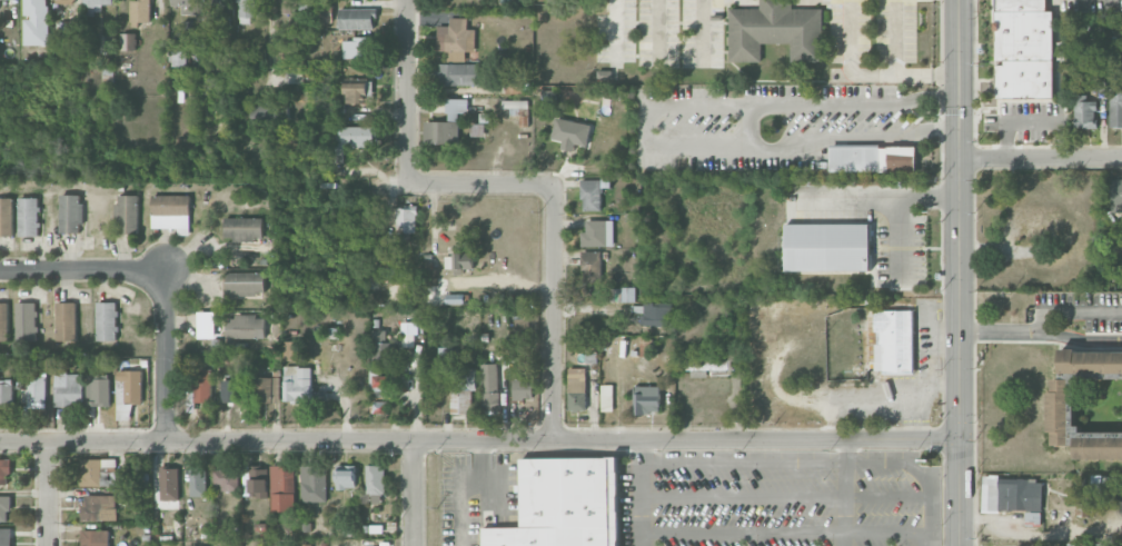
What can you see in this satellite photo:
building: (66, 1)
building: (95, 6)
building: (187, 6)
building: (219, 6)
building: (289, 6)
building: (247, 9)
building: (140, 10)
building: (357, 17)
building: (36, 22)
building: (70, 29)
building: (776, 30)
road: (656, 31)
road: (702, 31)
road: (615, 32)
building: (456, 36)
road: (850, 37)
road: (895, 37)
building: (128, 41)
road: (270, 43)
building: (355, 48)
building: (1024, 49)
building: (179, 58)
building: (460, 73)
road: (906, 75)
building: (1098, 81)
building: (514, 86)
building: (357, 91)
building: (547, 95)
building: (456, 108)
building: (1115, 109)
building: (1085, 112)
building: (271, 113)
road: (643, 126)
road: (747, 128)
building: (476, 129)
building: (441, 132)
building: (570, 132)
building: (355, 136)
road: (1041, 156)
building: (873, 158)
road: (406, 162)
road: (881, 190)
building: (592, 195)
building: (1116, 195)
building: (71, 212)
building: (171, 212)
building: (128, 214)
building: (6, 216)
building: (29, 216)
building: (406, 219)
building: (1042, 226)
building: (244, 228)
road: (900, 232)
building: (598, 234)
building: (827, 247)
building: (388, 260)
building: (459, 261)
building: (592, 266)
road: (82, 270)
road: (960, 272)
building: (246, 282)
building: (628, 294)
building: (455, 298)
road: (553, 311)
road: (1070, 311)
building: (656, 315)
building: (67, 320)
building: (107, 320)
building: (3, 321)
building: (26, 321)
building: (246, 327)
road: (1041, 331)
building: (408, 332)
building: (895, 340)
building: (381, 344)
building: (643, 347)
building: (289, 350)
road: (167, 356)
building: (445, 356)
building: (704, 363)
building: (1091, 364)
building: (698, 374)
building: (379, 380)
building: (298, 384)
building: (202, 385)
building: (490, 387)
building: (523, 388)
building: (577, 388)
building: (34, 389)
building: (68, 389)
building: (266, 389)
building: (229, 390)
building: (463, 390)
building: (98, 391)
building: (6, 393)
building: (607, 397)
building: (647, 399)
building: (1060, 411)
traffic signals: (960, 437)
road: (479, 439)
building: (1098, 445)
road: (742, 461)
building: (4, 471)
building: (346, 476)
building: (226, 478)
building: (375, 478)
building: (142, 479)
building: (198, 480)
building: (256, 482)
building: (314, 483)
building: (1106, 483)
building: (169, 484)
road: (485, 486)
building: (282, 487)
road: (461, 489)
road: (638, 492)
road: (846, 492)
road: (50, 494)
road: (411, 494)
building: (1012, 494)
road: (742, 497)
building: (565, 504)
building: (4, 507)
building: (99, 507)
building: (280, 527)
road: (742, 529)
building: (6, 536)
building: (96, 537)
building: (1052, 544)
building: (1084, 545)

